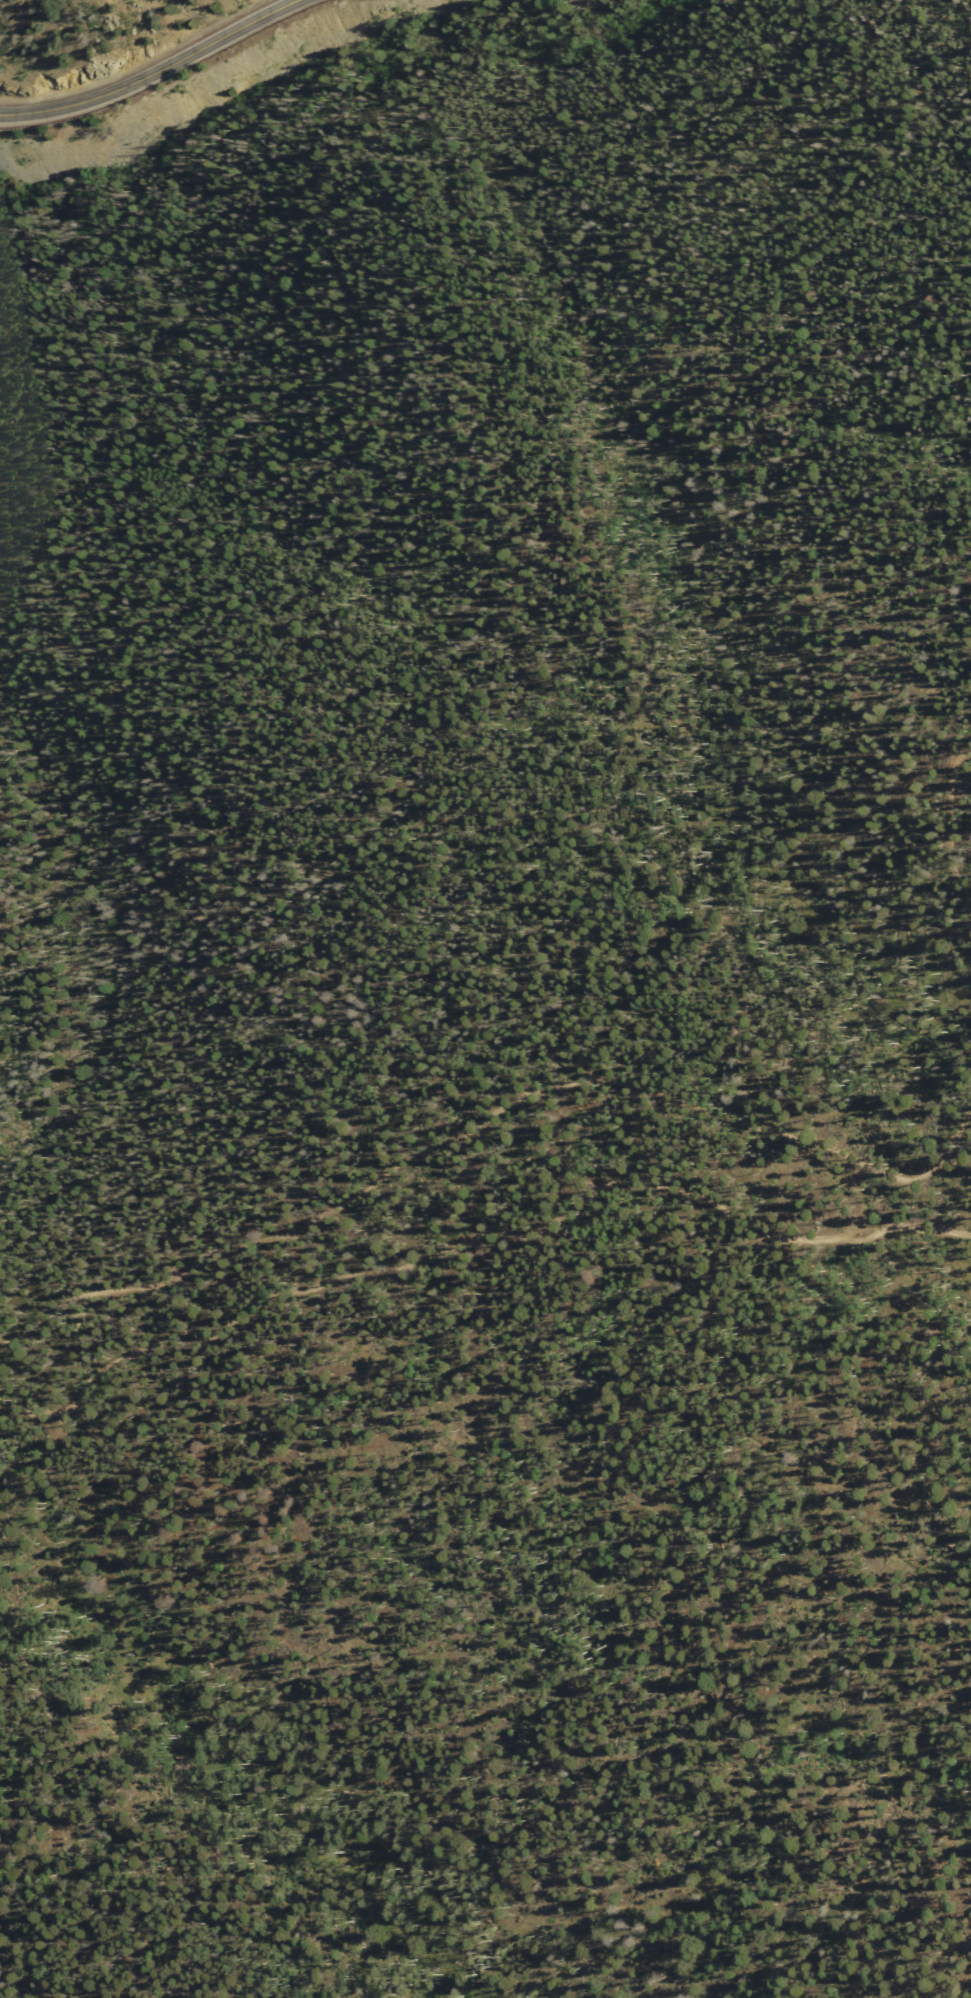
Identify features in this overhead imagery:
road: (147, 73)
road: (965, 806)
park: (567, 1138)
road: (459, 1139)
road: (951, 1139)
road: (492, 1231)
road: (14, 1413)
road: (329, 1645)

